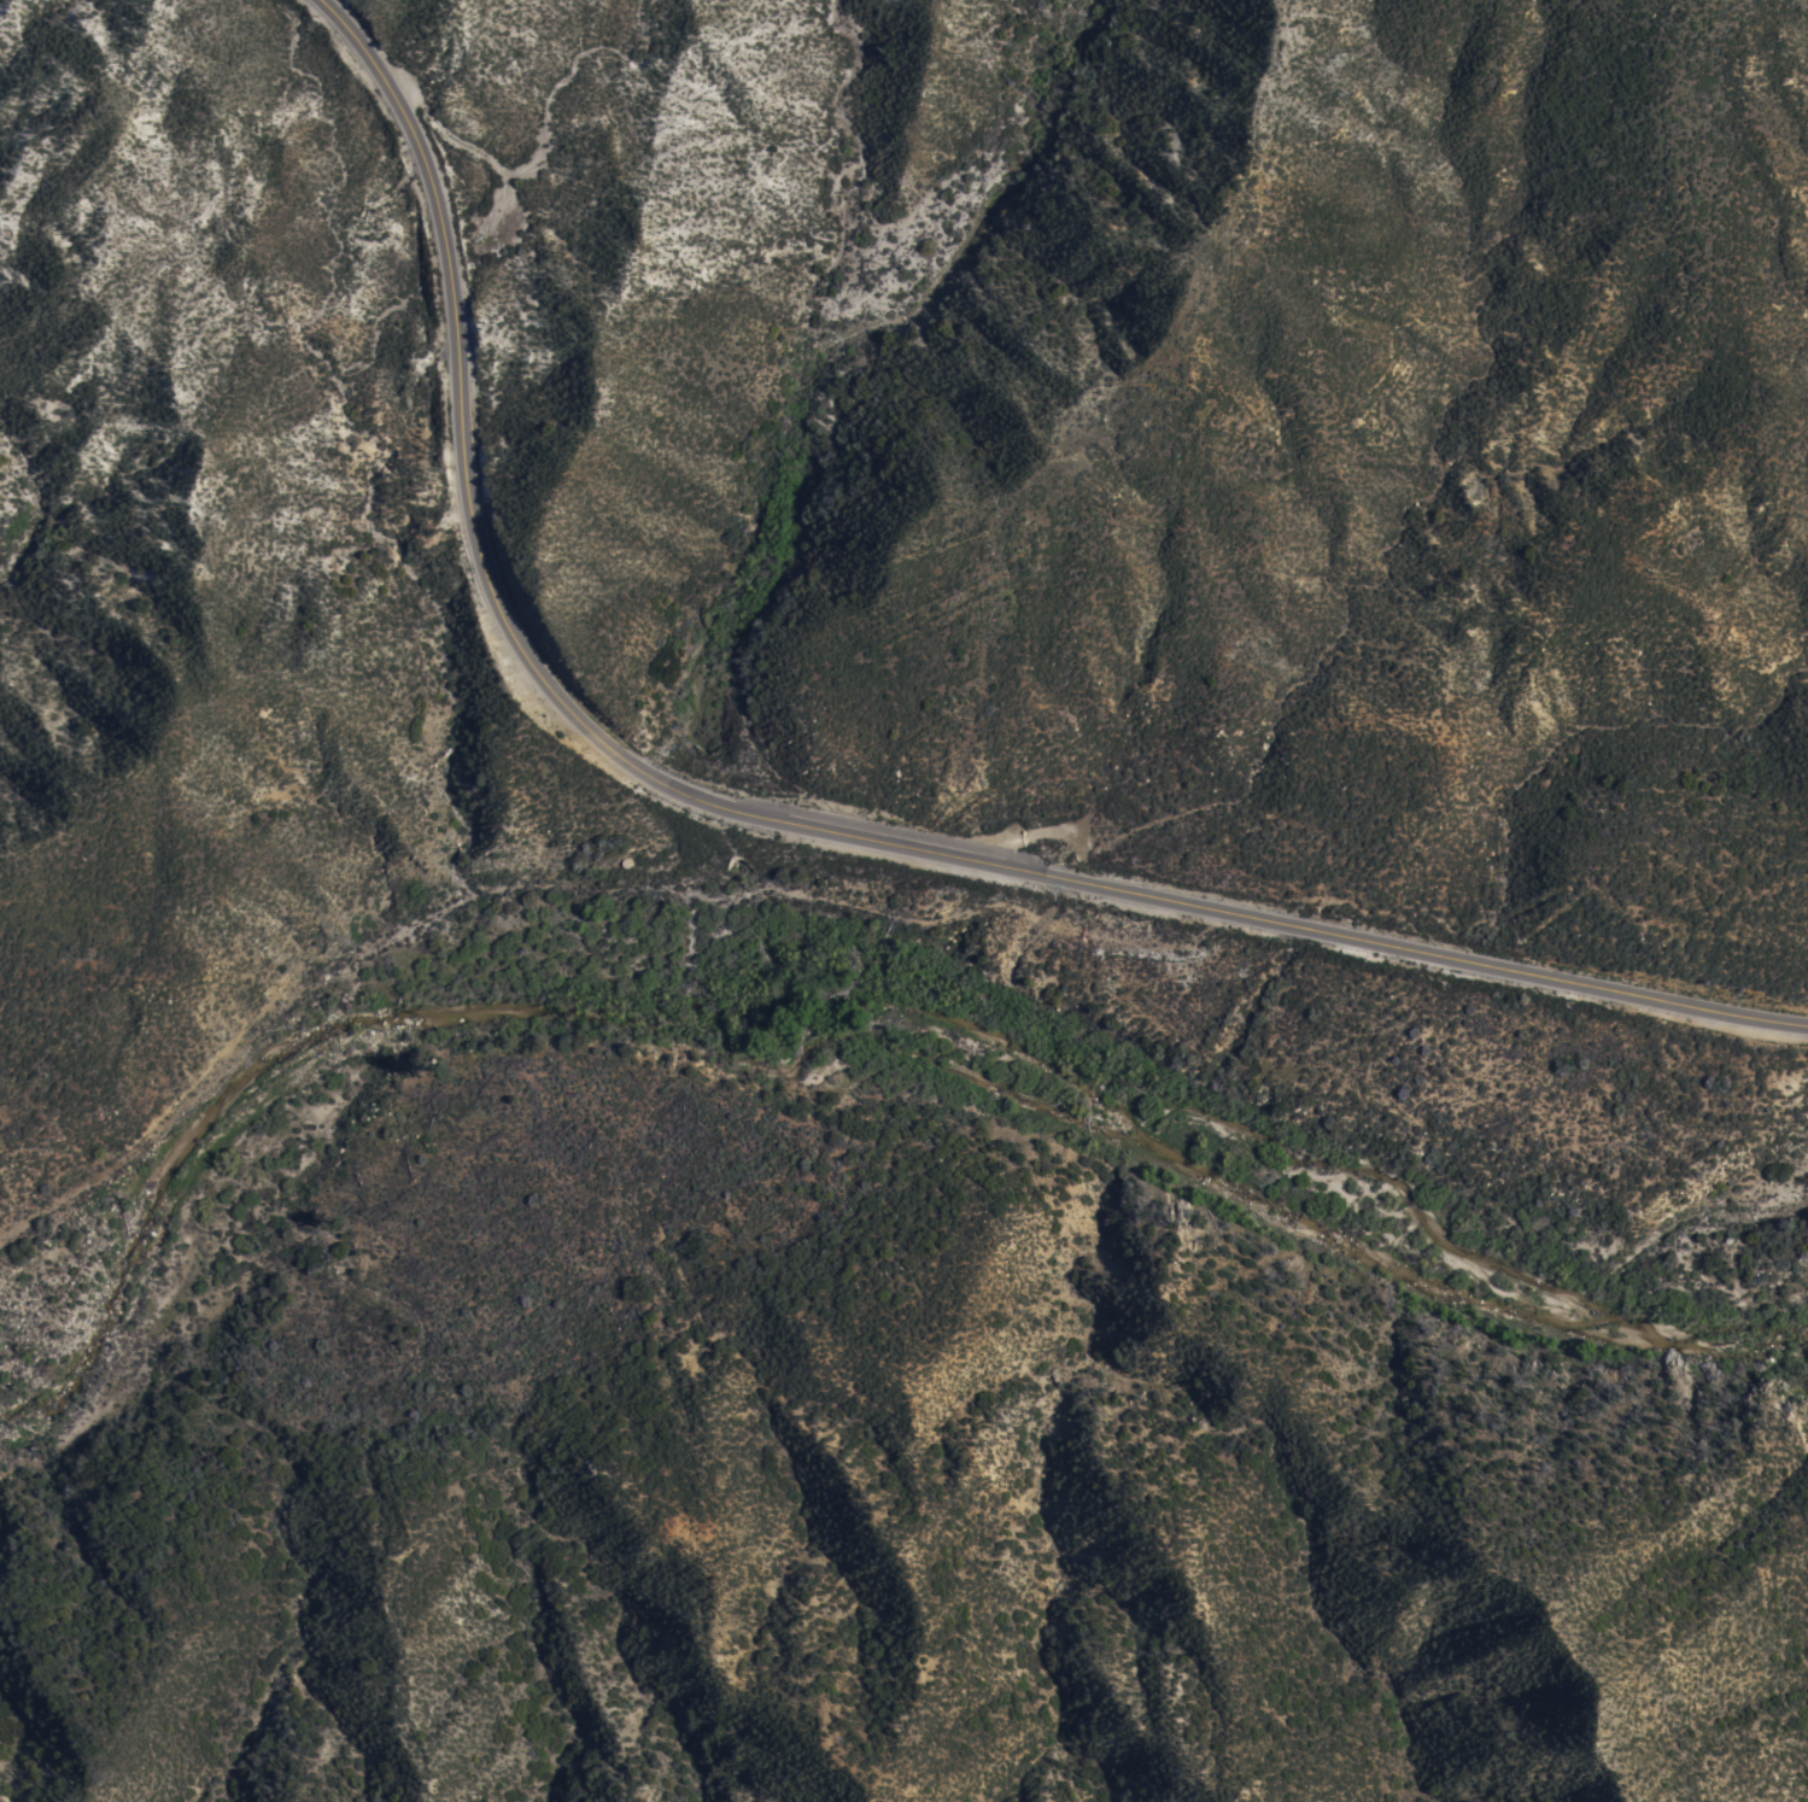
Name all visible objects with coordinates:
road: (792, 826)
river: (854, 1008)

